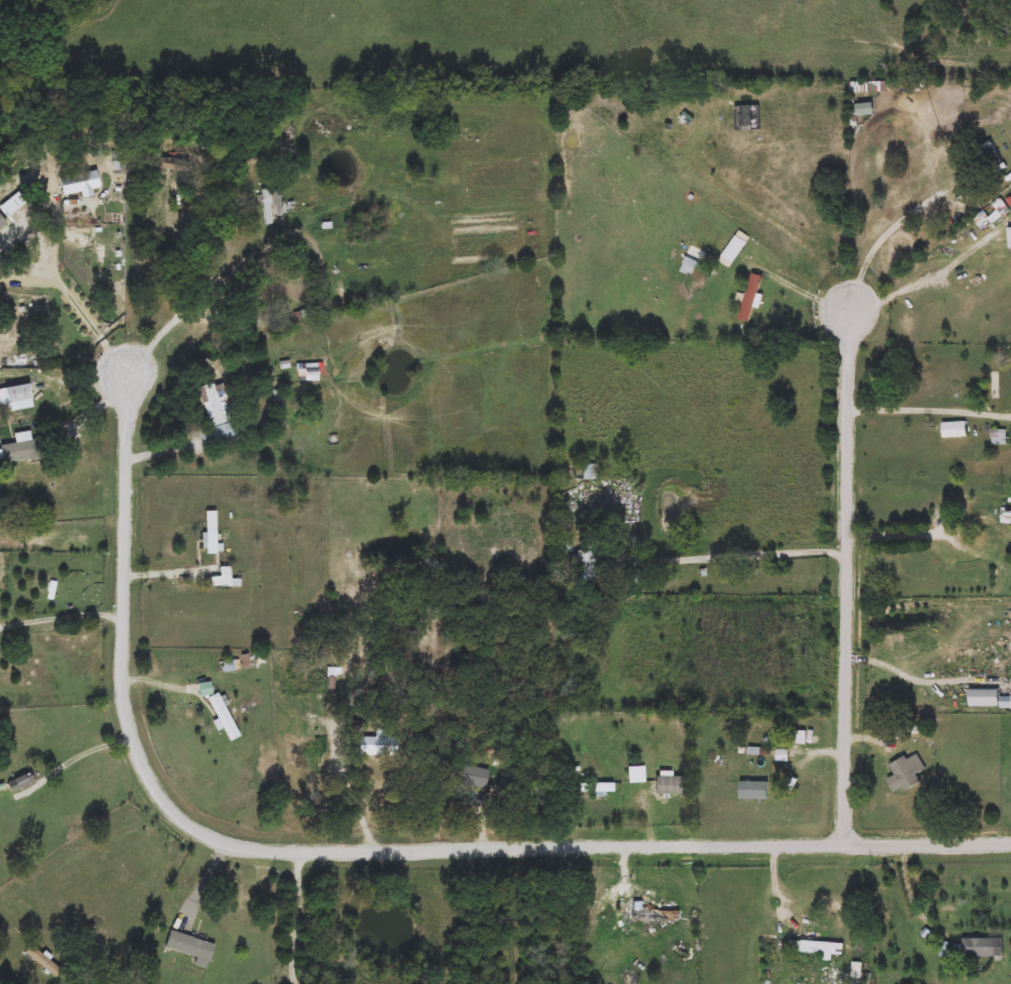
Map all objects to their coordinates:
building: (988, 155)
building: (166, 163)
building: (79, 183)
building: (10, 207)
building: (270, 208)
road: (779, 222)
road: (897, 229)
road: (177, 253)
road: (948, 256)
building: (697, 266)
road: (58, 271)
building: (751, 298)
road: (850, 300)
road: (99, 329)
road: (165, 332)
road: (66, 379)
building: (995, 388)
building: (16, 398)
building: (218, 404)
road: (919, 409)
building: (955, 430)
building: (219, 434)
building: (1001, 437)
building: (25, 448)
road: (165, 452)
building: (1009, 514)
road: (65, 524)
building: (210, 531)
building: (563, 546)
road: (747, 555)
building: (586, 568)
road: (175, 572)
road: (851, 572)
building: (224, 579)
road: (64, 620)
road: (913, 678)
road: (163, 685)
building: (985, 698)
building: (1006, 703)
building: (224, 718)
building: (377, 746)
road: (82, 758)
building: (909, 771)
building: (636, 775)
building: (16, 786)
building: (667, 786)
building: (595, 788)
building: (754, 790)
road: (352, 794)
road: (648, 818)
road: (83, 848)
road: (364, 850)
road: (207, 881)
road: (916, 895)
building: (649, 913)
road: (297, 917)
road: (337, 920)
building: (189, 947)
building: (983, 948)
building: (818, 949)
building: (43, 962)
building: (857, 973)

